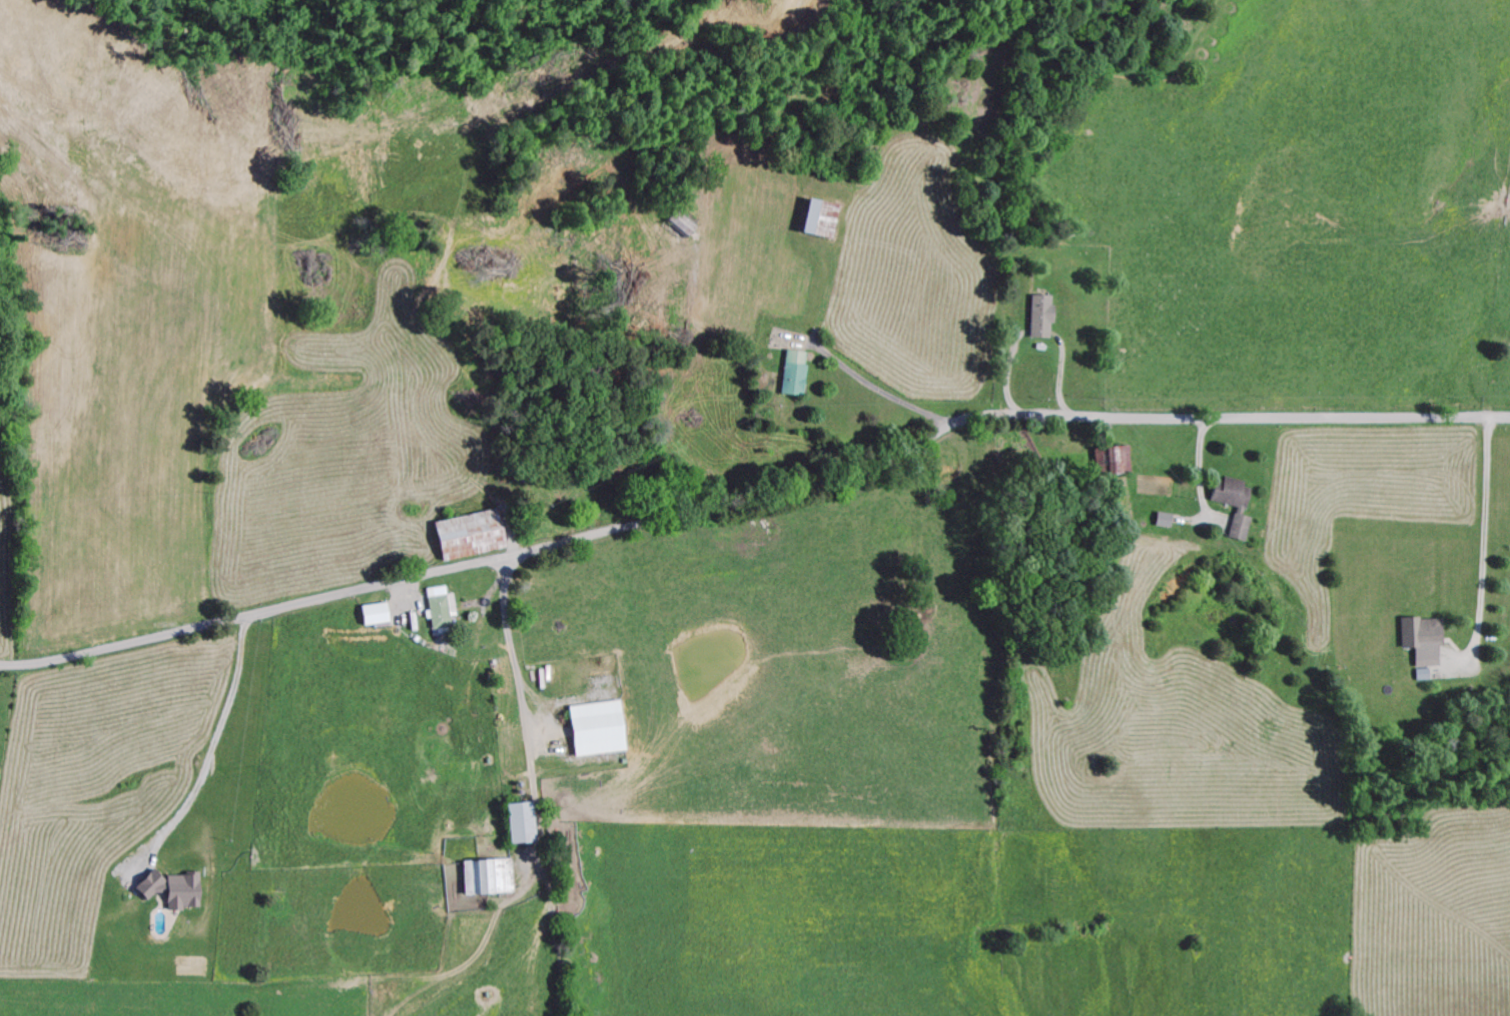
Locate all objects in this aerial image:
building: (810, 222)
building: (1034, 320)
building: (788, 376)
building: (1111, 463)
road: (755, 500)
building: (1227, 507)
building: (1158, 523)
building: (462, 538)
building: (435, 609)
building: (368, 617)
building: (1418, 642)
building: (591, 732)
road: (209, 752)
building: (513, 826)
building: (481, 880)
building: (167, 893)

